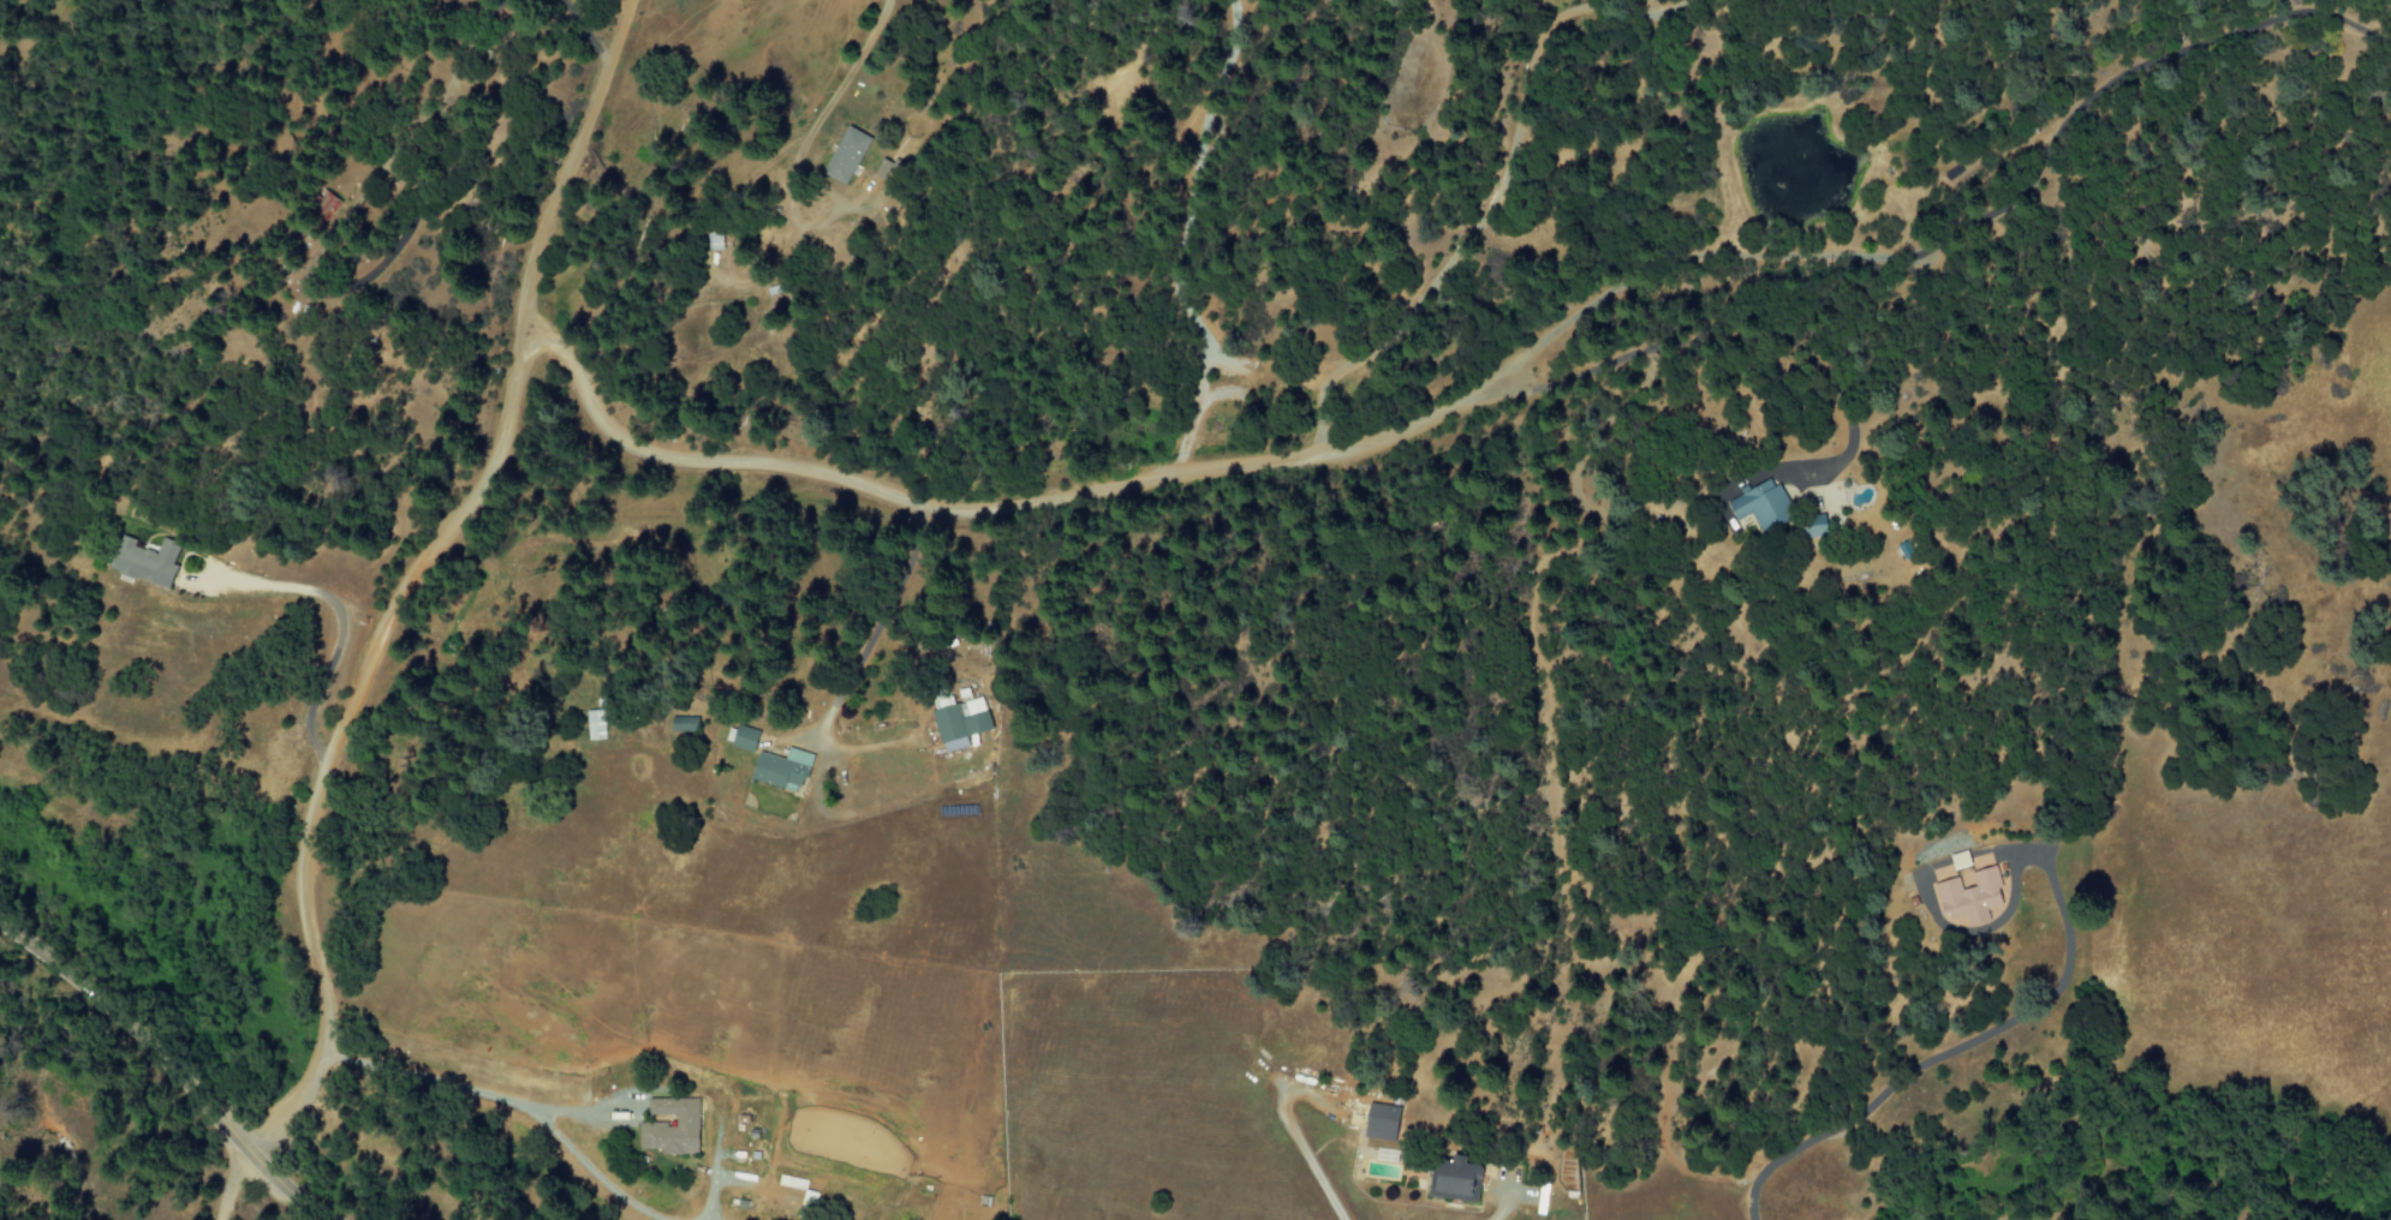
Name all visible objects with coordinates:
building: (846, 156)
building: (884, 168)
road: (2002, 209)
road: (1031, 503)
building: (1761, 506)
building: (1814, 528)
building: (144, 562)
road: (404, 574)
road: (338, 618)
building: (684, 724)
building: (959, 724)
building: (595, 725)
building: (744, 738)
building: (781, 770)
building: (1960, 861)
building: (1970, 898)
road: (163, 1069)
road: (467, 1095)
building: (1381, 1123)
building: (670, 1128)
building: (1454, 1180)
building: (792, 1183)
road: (232, 1186)
building: (807, 1203)

